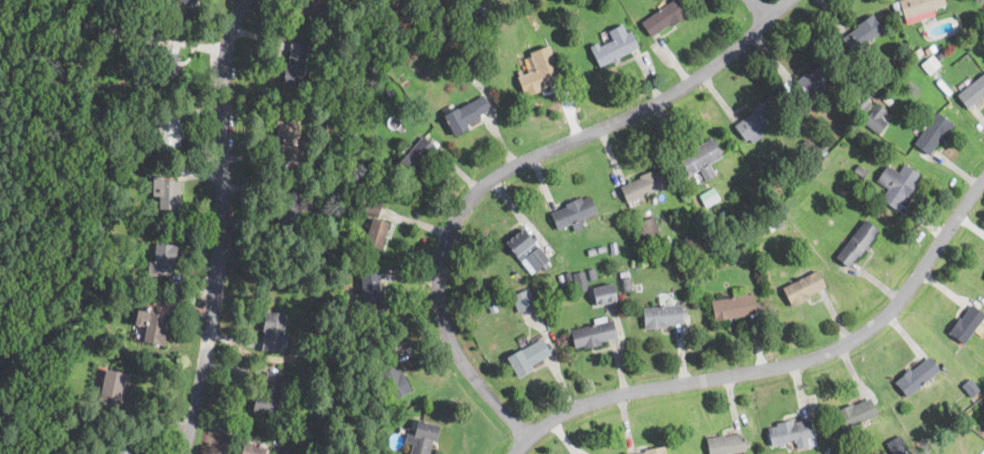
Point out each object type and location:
building: (187, 2)
building: (408, 6)
building: (310, 9)
road: (757, 9)
building: (920, 9)
building: (664, 17)
building: (863, 34)
building: (452, 35)
building: (615, 45)
building: (928, 50)
building: (917, 52)
building: (941, 52)
building: (956, 57)
building: (167, 63)
building: (930, 63)
building: (295, 65)
building: (539, 72)
building: (812, 83)
building: (878, 86)
building: (390, 91)
building: (972, 92)
building: (888, 99)
building: (863, 103)
building: (466, 114)
building: (417, 117)
building: (875, 118)
building: (756, 119)
building: (330, 124)
building: (168, 132)
building: (933, 132)
building: (288, 138)
building: (806, 146)
building: (821, 147)
building: (415, 158)
building: (702, 159)
building: (864, 162)
road: (514, 168)
building: (860, 170)
building: (91, 175)
building: (356, 177)
building: (771, 183)
building: (897, 184)
building: (642, 185)
building: (806, 187)
building: (166, 192)
building: (709, 197)
building: (290, 206)
building: (369, 206)
building: (573, 213)
building: (778, 220)
road: (220, 227)
building: (771, 227)
building: (649, 231)
building: (375, 233)
building: (856, 243)
building: (716, 246)
building: (601, 249)
building: (305, 251)
building: (528, 251)
building: (592, 251)
building: (582, 254)
building: (163, 259)
building: (637, 267)
building: (592, 274)
building: (563, 276)
building: (575, 283)
building: (626, 284)
building: (638, 284)
building: (803, 287)
building: (371, 294)
building: (523, 299)
building: (612, 300)
building: (733, 306)
building: (663, 316)
building: (966, 324)
building: (154, 328)
building: (272, 330)
building: (593, 332)
building: (71, 352)
building: (528, 357)
road: (778, 365)
building: (915, 376)
building: (391, 378)
building: (113, 386)
building: (970, 387)
building: (268, 393)
building: (854, 413)
building: (983, 419)
building: (308, 427)
building: (791, 433)
building: (424, 436)
building: (370, 443)
building: (726, 444)
building: (897, 445)
building: (252, 448)
building: (654, 450)
building: (122, 451)
building: (308, 452)

